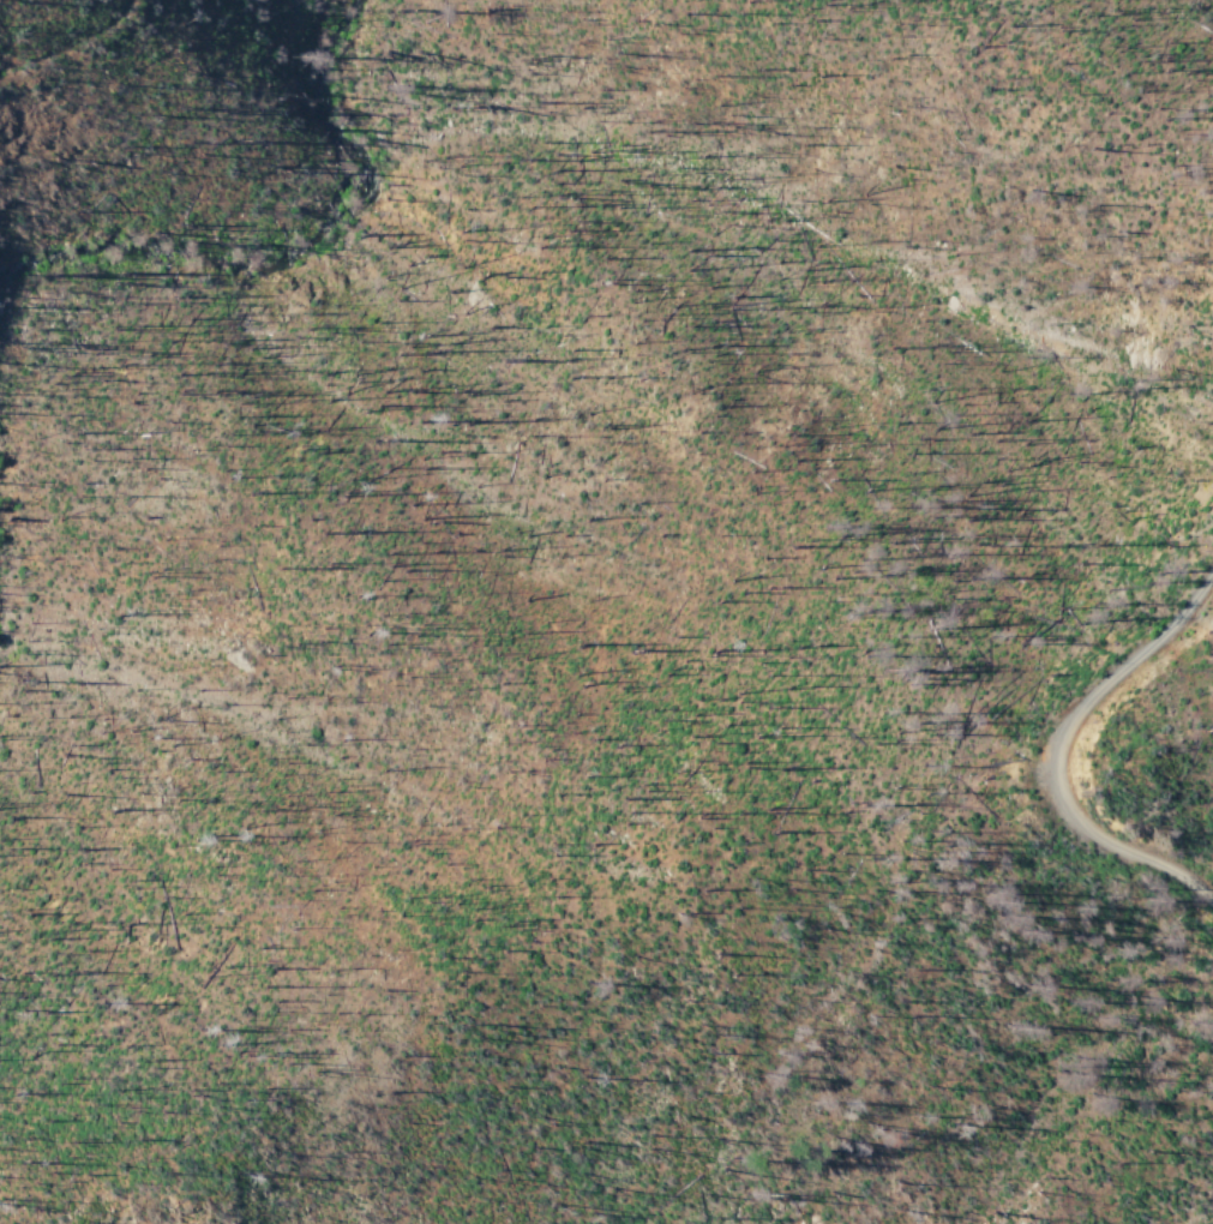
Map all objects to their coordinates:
road: (1076, 794)

